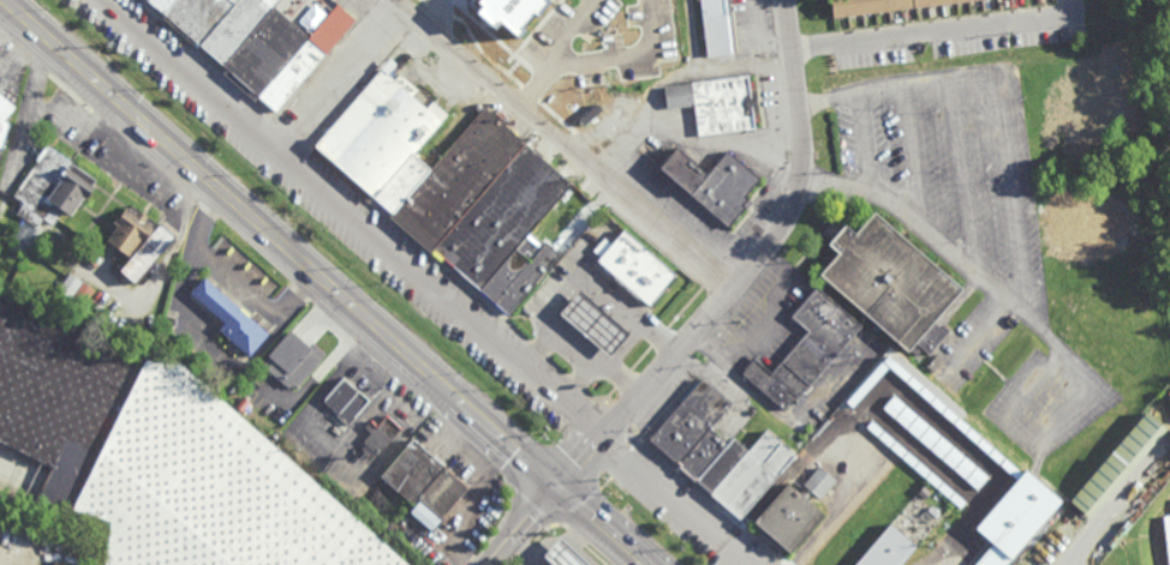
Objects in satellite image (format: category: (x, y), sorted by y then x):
building: (883, 6)
building: (513, 12)
road: (435, 13)
road: (8, 24)
road: (571, 26)
building: (716, 26)
road: (936, 30)
building: (250, 42)
road: (631, 59)
road: (335, 74)
road: (541, 82)
building: (717, 102)
building: (4, 119)
road: (864, 142)
road: (563, 143)
building: (714, 182)
building: (450, 185)
building: (52, 191)
road: (351, 216)
road: (1013, 220)
building: (131, 230)
road: (276, 246)
road: (419, 247)
building: (148, 254)
building: (634, 265)
road: (744, 272)
road: (597, 283)
building: (71, 284)
building: (893, 284)
building: (83, 294)
building: (231, 318)
building: (593, 323)
gas station: (593, 323)
road: (966, 341)
road: (578, 345)
road: (627, 345)
road: (539, 350)
building: (292, 360)
road: (557, 366)
road: (579, 378)
road: (577, 383)
building: (775, 383)
road: (408, 390)
road: (595, 397)
building: (347, 402)
road: (617, 417)
traffic signals: (604, 433)
building: (381, 438)
building: (714, 451)
building: (783, 451)
building: (156, 457)
road: (629, 461)
building: (1120, 467)
building: (425, 480)
road: (607, 482)
traffic signals: (553, 493)
road: (709, 497)
road: (679, 498)
road: (531, 503)
road: (578, 505)
building: (794, 512)
road: (563, 525)
road: (521, 528)
road: (593, 529)
road: (543, 531)
building: (1168, 533)
road: (577, 539)
building: (889, 542)
road: (526, 552)
road: (1078, 553)
building: (561, 555)
road: (596, 555)
road: (517, 563)
road: (0, 564)

